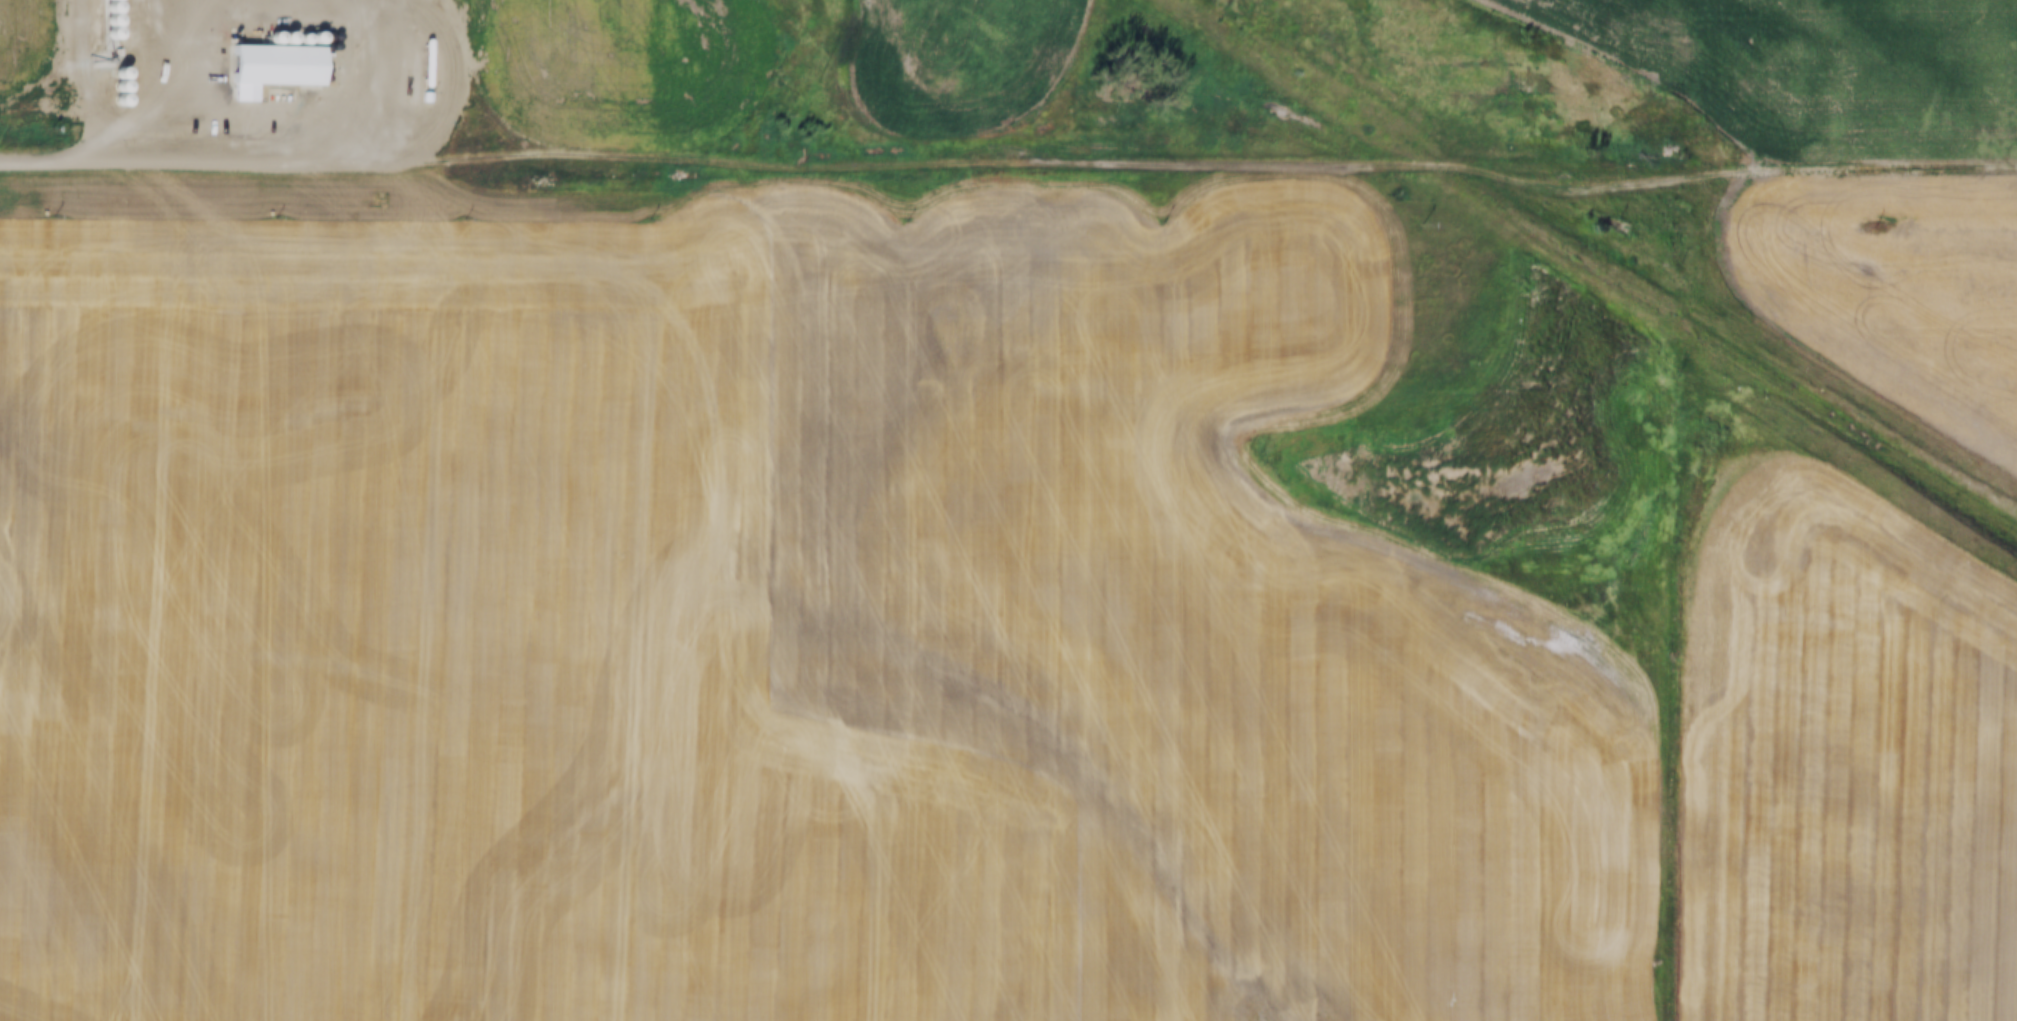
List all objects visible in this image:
building: (100, 0)
silo: (100, 0)
building: (100, 8)
silo: (100, 8)
building: (100, 21)
silo: (100, 21)
building: (100, 34)
silo: (100, 34)
storage tank: (292, 39)
storage tank: (306, 39)
storage tank: (279, 40)
storage tank: (238, 41)
storage tank: (246, 41)
storage tank: (256, 41)
storage tank: (266, 41)
building: (113, 42)
silo: (113, 42)
storage tank: (416, 64)
building: (261, 70)
building: (111, 73)
silo: (111, 73)
road: (185, 80)
building: (111, 87)
silo: (111, 87)
building: (415, 98)
building: (112, 101)
silo: (112, 101)
road: (201, 161)
road: (1210, 166)

